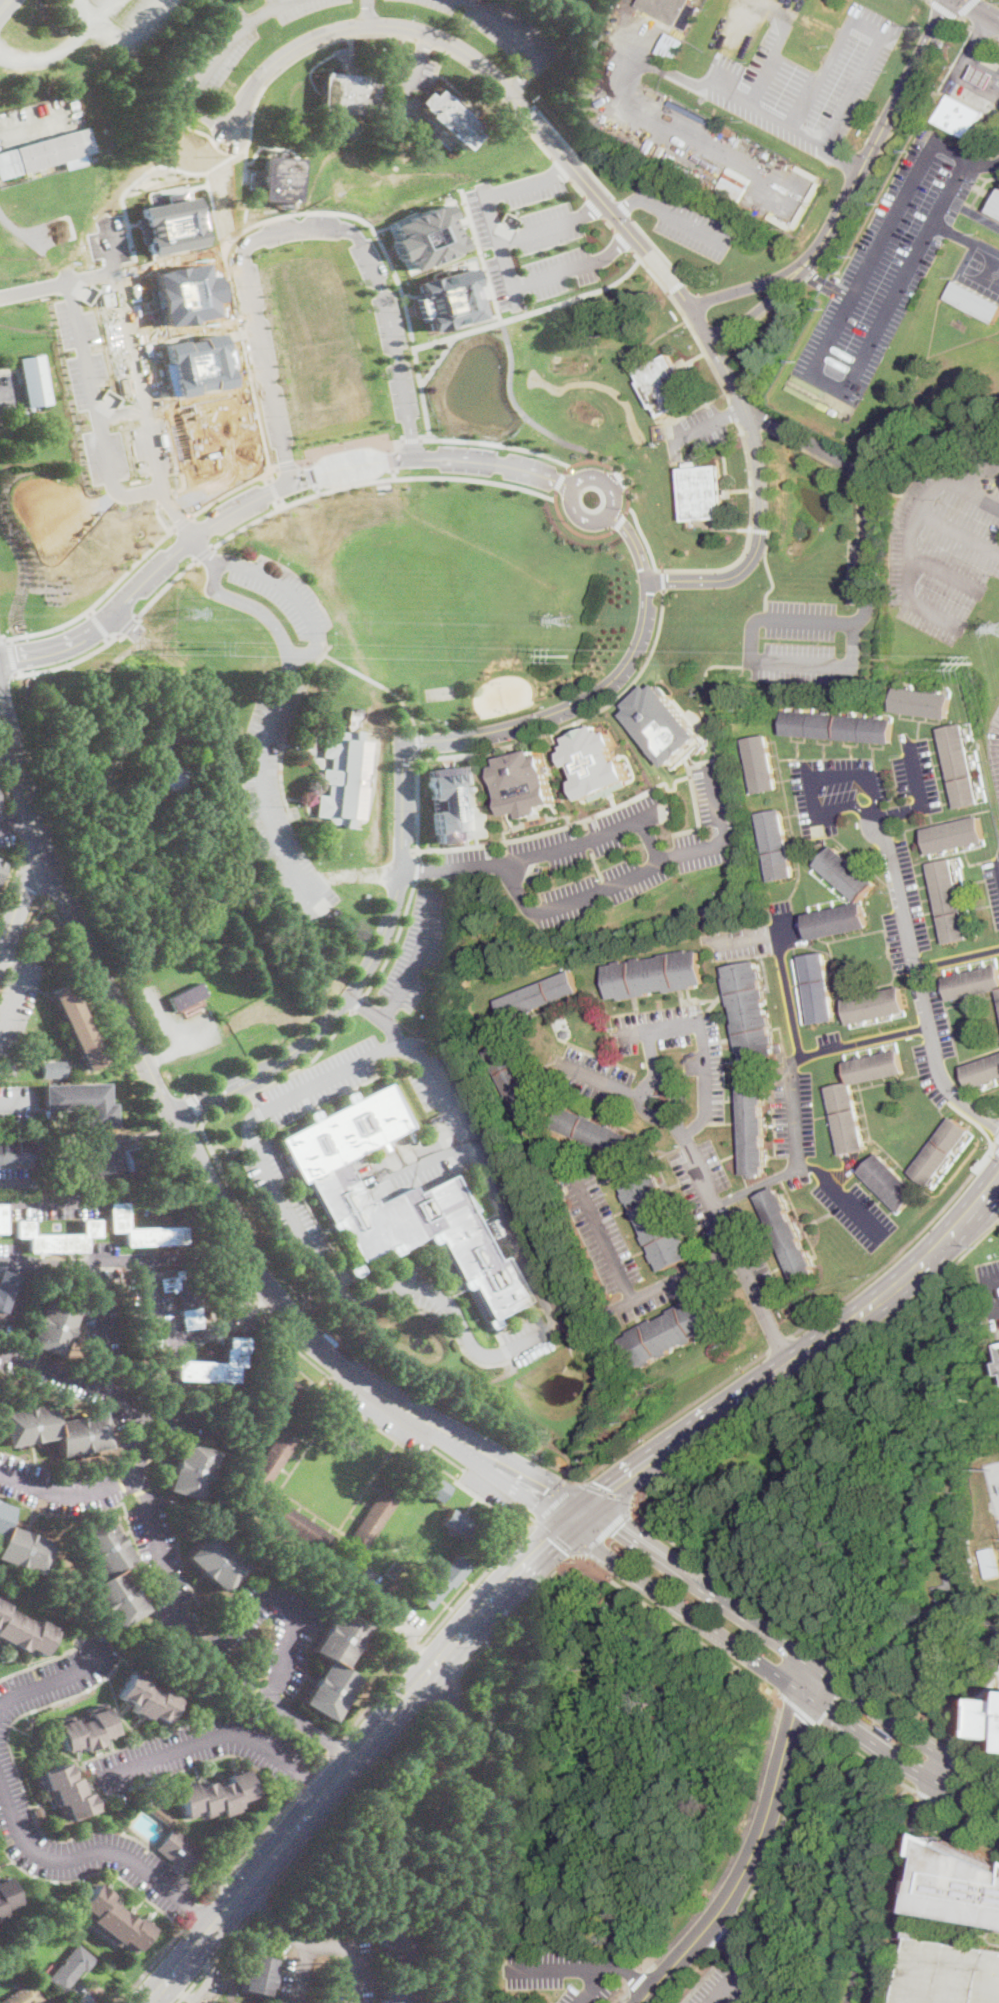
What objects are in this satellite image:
road: (930, 0)
road: (4, 5)
parking lot: (297, 7)
road: (102, 8)
road: (945, 8)
road: (965, 8)
road: (983, 8)
building: (672, 10)
road: (369, 11)
traffic signals: (943, 15)
building: (616, 18)
parking lot: (118, 22)
road: (965, 22)
road: (507, 26)
road: (866, 26)
parking lot: (504, 28)
road: (982, 29)
building: (610, 30)
road: (786, 33)
road: (996, 36)
road: (119, 37)
road: (226, 42)
road: (426, 43)
road: (637, 46)
building: (673, 46)
building: (604, 48)
road: (53, 53)
parking lot: (219, 53)
road: (985, 59)
road: (292, 61)
road: (962, 67)
road: (415, 72)
road: (527, 75)
building: (984, 75)
parking lot: (807, 80)
road: (510, 92)
road: (708, 92)
building: (349, 94)
road: (510, 107)
road: (209, 116)
building: (961, 116)
road: (901, 117)
building: (451, 120)
road: (31, 122)
building: (47, 153)
road: (983, 164)
road: (560, 169)
building: (279, 180)
road: (579, 189)
parking lot: (533, 196)
road: (488, 207)
road: (595, 208)
building: (996, 208)
parking lot: (546, 215)
road: (357, 219)
parking lot: (478, 220)
parking lot: (687, 222)
road: (610, 225)
road: (293, 226)
road: (554, 227)
road: (623, 228)
road: (954, 232)
building: (423, 236)
parking lot: (552, 240)
parking lot: (558, 260)
road: (809, 266)
parking lot: (888, 266)
park: (983, 268)
parking lot: (594, 277)
road: (58, 284)
parking lot: (497, 284)
road: (828, 286)
parking lot: (553, 289)
building: (446, 298)
road: (492, 300)
building: (974, 302)
road: (436, 359)
building: (684, 367)
road: (814, 369)
building: (34, 381)
road: (140, 386)
building: (665, 386)
road: (12, 394)
parking lot: (8, 398)
road: (96, 408)
road: (121, 412)
road: (425, 438)
road: (412, 440)
road: (392, 442)
road: (343, 447)
road: (592, 460)
road: (392, 461)
road: (289, 466)
road: (625, 477)
road: (472, 479)
road: (561, 480)
road: (232, 488)
road: (274, 489)
road: (574, 492)
building: (704, 493)
road: (266, 494)
road: (970, 495)
road: (633, 499)
road: (297, 500)
road: (280, 503)
road: (157, 513)
road: (623, 520)
road: (183, 521)
road: (573, 529)
road: (958, 531)
road: (910, 537)
road: (648, 539)
parking lot: (945, 545)
road: (202, 552)
road: (947, 573)
road: (666, 579)
road: (692, 579)
road: (164, 588)
parking lot: (283, 592)
road: (99, 599)
power tower: (188, 609)
road: (90, 611)
road: (861, 615)
power tower: (565, 619)
road: (100, 624)
road: (128, 625)
parking lot: (813, 630)
road: (109, 638)
road: (2, 639)
power tower: (204, 647)
road: (295, 653)
road: (11, 654)
power tower: (567, 655)
power tower: (975, 661)
road: (70, 662)
road: (376, 684)
building: (922, 703)
parking lot: (998, 713)
road: (579, 721)
building: (663, 722)
building: (840, 727)
road: (446, 737)
building: (161, 739)
road: (414, 740)
parking lot: (995, 751)
building: (595, 761)
building: (762, 764)
building: (961, 766)
road: (20, 777)
building: (342, 777)
building: (174, 778)
road: (816, 778)
building: (525, 783)
road: (7, 786)
parking lot: (864, 788)
road: (921, 794)
parking lot: (278, 797)
building: (451, 803)
road: (414, 804)
road: (597, 813)
road: (16, 821)
road: (16, 822)
parking lot: (5, 830)
building: (956, 835)
road: (22, 838)
building: (777, 844)
parking lot: (606, 854)
building: (0, 862)
building: (1, 866)
road: (358, 868)
road: (35, 869)
road: (413, 869)
road: (633, 870)
road: (11, 871)
building: (847, 874)
parking lot: (992, 885)
road: (18, 898)
building: (950, 901)
parking lot: (903, 906)
building: (838, 921)
parking lot: (762, 934)
road: (760, 935)
road: (393, 940)
parking lot: (415, 948)
road: (13, 955)
road: (416, 957)
road: (957, 958)
building: (258, 974)
road: (362, 974)
building: (655, 974)
road: (919, 983)
building: (973, 983)
building: (819, 988)
road: (13, 995)
building: (187, 995)
building: (539, 995)
road: (788, 995)
road: (359, 1002)
parking lot: (17, 1005)
building: (876, 1005)
building: (750, 1011)
road: (378, 1015)
road: (166, 1019)
building: (76, 1027)
building: (566, 1033)
parking lot: (677, 1034)
parking lot: (828, 1039)
parking lot: (932, 1039)
road: (864, 1042)
road: (706, 1047)
road: (180, 1049)
road: (652, 1055)
building: (54, 1069)
building: (983, 1072)
road: (287, 1076)
parking lot: (594, 1076)
road: (603, 1080)
parking lot: (323, 1081)
building: (515, 1082)
road: (16, 1100)
parking lot: (16, 1101)
building: (80, 1103)
road: (193, 1103)
parking lot: (793, 1114)
building: (849, 1118)
road: (974, 1121)
building: (754, 1126)
building: (595, 1131)
road: (995, 1141)
road: (226, 1149)
road: (995, 1149)
building: (942, 1151)
building: (15, 1152)
road: (796, 1155)
road: (433, 1156)
building: (112, 1159)
road: (201, 1169)
parking lot: (23, 1178)
road: (31, 1181)
building: (891, 1182)
road: (707, 1191)
road: (844, 1194)
road: (115, 1199)
parking lot: (285, 1199)
building: (397, 1199)
parking lot: (55, 1205)
parking lot: (856, 1211)
building: (2, 1219)
building: (657, 1220)
parking lot: (602, 1229)
building: (141, 1230)
building: (788, 1235)
building: (57, 1238)
road: (900, 1250)
parking lot: (753, 1251)
road: (336, 1252)
road: (121, 1257)
road: (228, 1258)
building: (354, 1270)
road: (991, 1280)
building: (5, 1287)
parking lot: (989, 1287)
parking lot: (655, 1293)
building: (185, 1296)
building: (306, 1296)
road: (630, 1296)
road: (447, 1302)
road: (994, 1308)
parking lot: (107, 1325)
building: (52, 1326)
building: (671, 1331)
road: (184, 1339)
parking lot: (530, 1339)
road: (348, 1341)
road: (111, 1343)
parking lot: (283, 1343)
road: (780, 1343)
road: (791, 1363)
building: (212, 1365)
road: (818, 1370)
building: (287, 1388)
parking lot: (379, 1414)
road: (496, 1415)
road: (170, 1418)
road: (671, 1418)
building: (55, 1430)
road: (392, 1437)
road: (305, 1440)
building: (276, 1454)
road: (515, 1462)
building: (190, 1470)
road: (500, 1478)
power substation: (994, 1482)
building: (431, 1485)
parking lot: (57, 1487)
traffic signals: (612, 1489)
parking lot: (488, 1490)
road: (70, 1493)
road: (606, 1493)
road: (967, 1494)
road: (556, 1501)
traffic signals: (536, 1504)
road: (308, 1508)
building: (373, 1519)
road: (944, 1519)
road: (537, 1520)
road: (537, 1522)
building: (299, 1524)
building: (458, 1524)
traffic signals: (617, 1530)
road: (608, 1532)
road: (557, 1537)
traffic signals: (551, 1540)
building: (21, 1546)
road: (161, 1555)
parking lot: (160, 1557)
building: (216, 1561)
road: (571, 1562)
building: (990, 1562)
road: (594, 1566)
building: (394, 1569)
building: (110, 1573)
road: (464, 1578)
building: (442, 1580)
road: (459, 1590)
road: (936, 1590)
parking lot: (384, 1600)
road: (443, 1601)
road: (967, 1612)
road: (296, 1619)
road: (435, 1619)
road: (395, 1620)
road: (509, 1621)
parking lot: (232, 1626)
road: (437, 1626)
building: (23, 1629)
road: (692, 1635)
road: (895, 1638)
road: (807, 1641)
road: (226, 1643)
road: (790, 1650)
road: (935, 1662)
building: (334, 1664)
road: (778, 1677)
road: (51, 1681)
road: (446, 1690)
road: (779, 1695)
road: (778, 1696)
building: (148, 1697)
road: (836, 1699)
road: (800, 1709)
road: (976, 1719)
building: (993, 1719)
building: (87, 1731)
building: (889, 1733)
road: (214, 1734)
road: (336, 1747)
parking lot: (199, 1752)
road: (868, 1759)
road: (353, 1762)
road: (322, 1763)
road: (943, 1772)
road: (308, 1779)
parking lot: (9, 1782)
building: (69, 1792)
building: (217, 1796)
road: (929, 1797)
road: (28, 1800)
road: (348, 1801)
building: (39, 1814)
building: (161, 1815)
road: (968, 1817)
road: (785, 1823)
road: (460, 1832)
road: (252, 1845)
road: (754, 1849)
road: (739, 1850)
building: (181, 1851)
road: (858, 1854)
road: (78, 1856)
road: (909, 1866)
road: (211, 1877)
building: (961, 1883)
building: (7, 1898)
road: (260, 1906)
road: (196, 1911)
road: (203, 1914)
building: (114, 1920)
road: (723, 1933)
road: (486, 1942)
building: (70, 1943)
road: (731, 1943)
building: (398, 1944)
road: (316, 1946)
road: (862, 1950)
parking lot: (358, 1953)
road: (715, 1955)
road: (215, 1959)
road: (153, 1964)
building: (72, 1968)
road: (579, 1968)
parking lot: (568, 1970)
building: (952, 1973)
parking lot: (952, 1973)
road: (297, 1974)
building: (258, 1975)
road: (639, 1980)
road: (700, 1981)
road: (854, 1984)
road: (593, 1985)
road: (728, 1986)
road: (742, 1986)
parking lot: (714, 1987)
road: (201, 1989)
building: (24, 1994)
building: (399, 1995)
road: (624, 1997)

